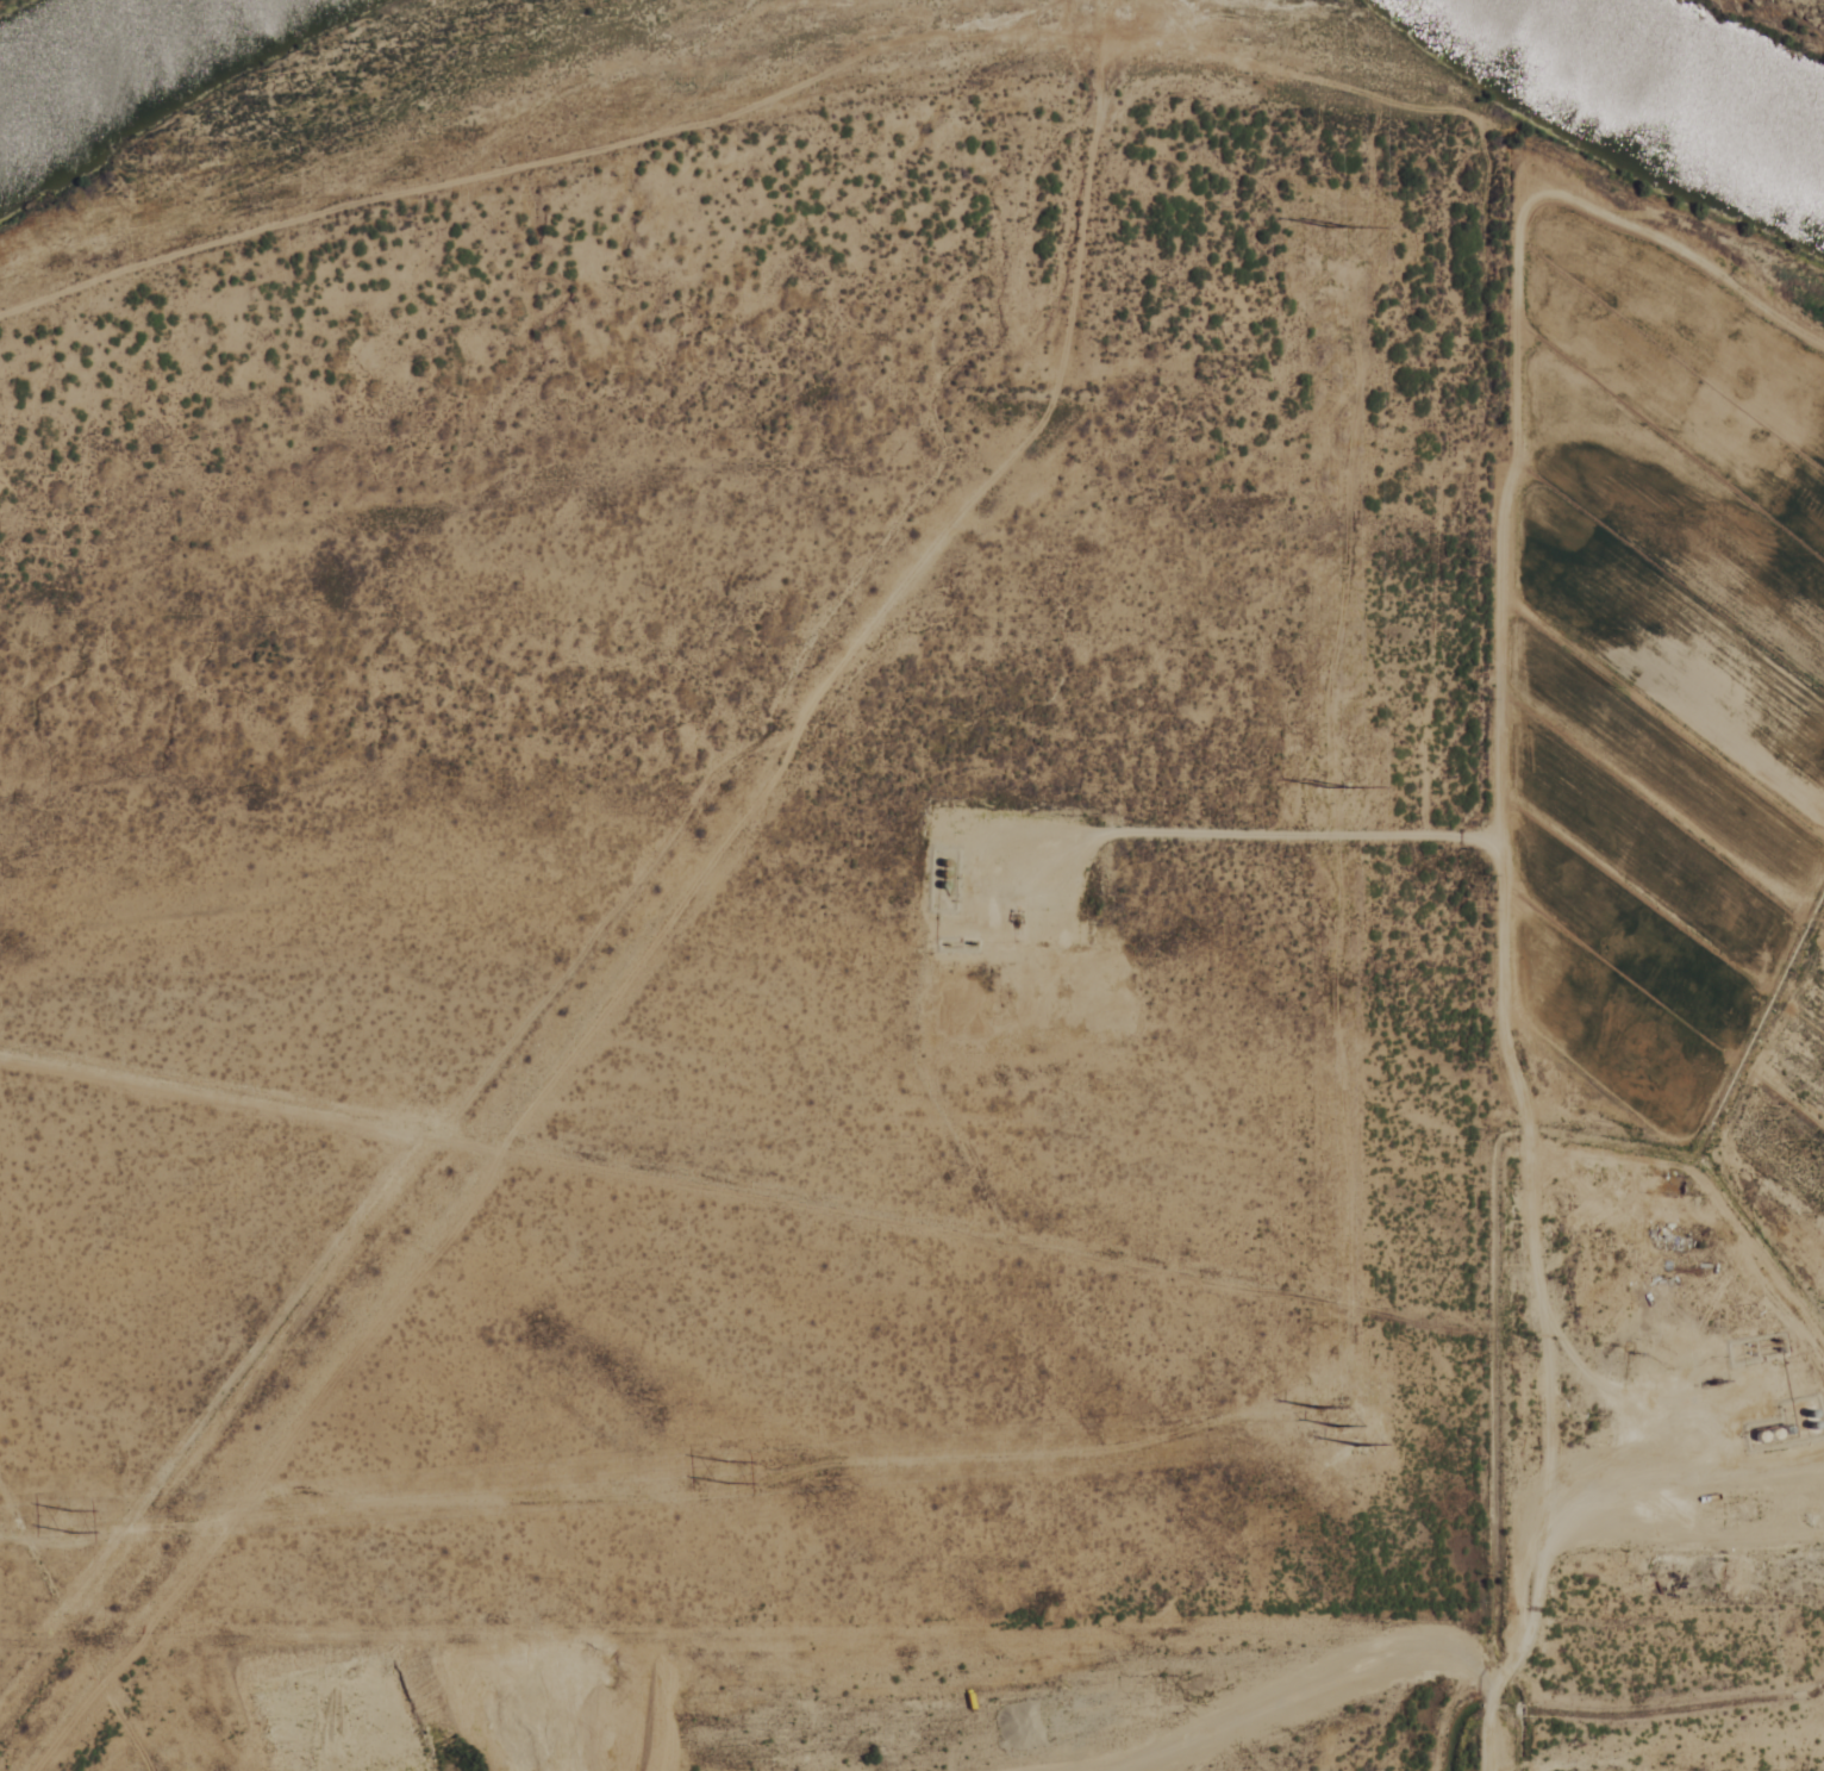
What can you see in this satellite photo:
river: (104, 56)
river: (1672, 83)
road: (782, 111)
power tower: (1332, 225)
road: (1622, 430)
power tower: (1332, 785)
road: (1248, 834)
road: (626, 896)
road: (1504, 933)
road: (1624, 1420)
power tower: (1328, 1429)
power tower: (719, 1470)
power tower: (64, 1523)
road: (73, 1627)
road: (1568, 1763)

